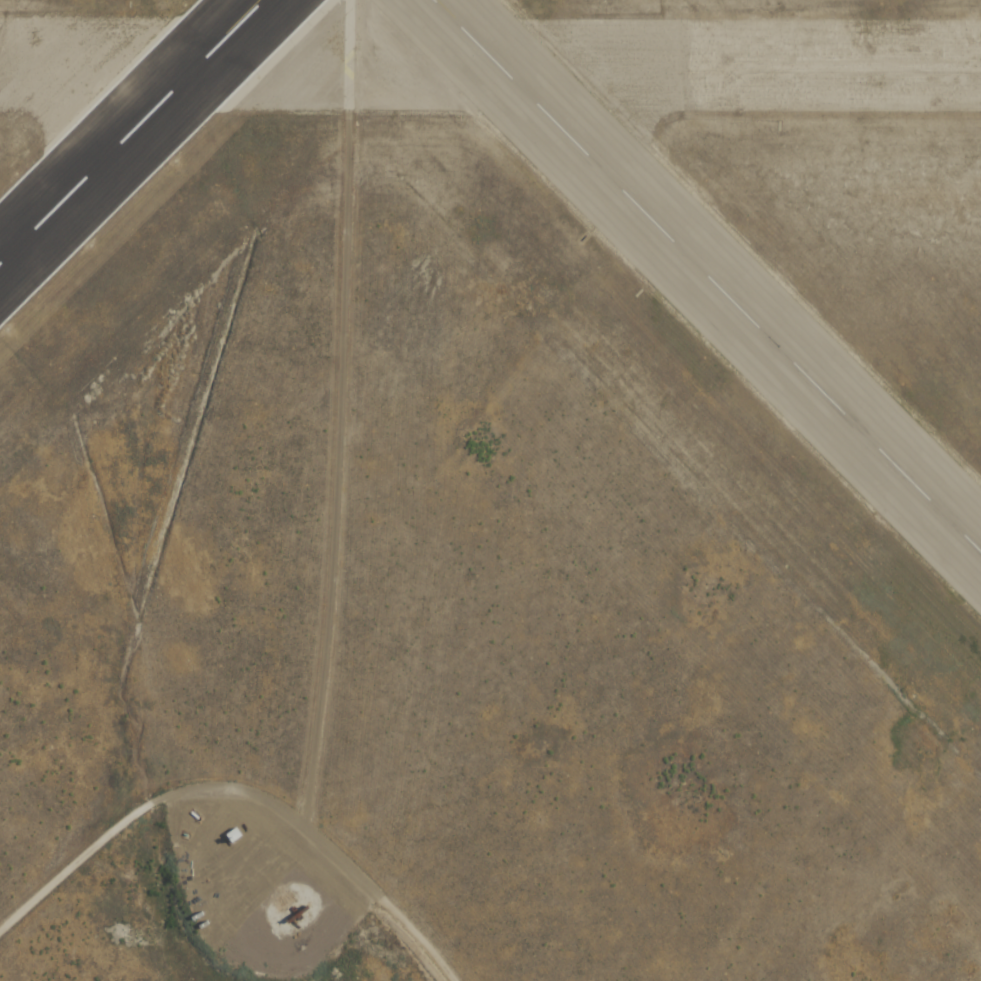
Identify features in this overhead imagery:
airport runway: (132, 132)
airport runway: (706, 276)
airport: (490, 490)
road: (239, 789)

